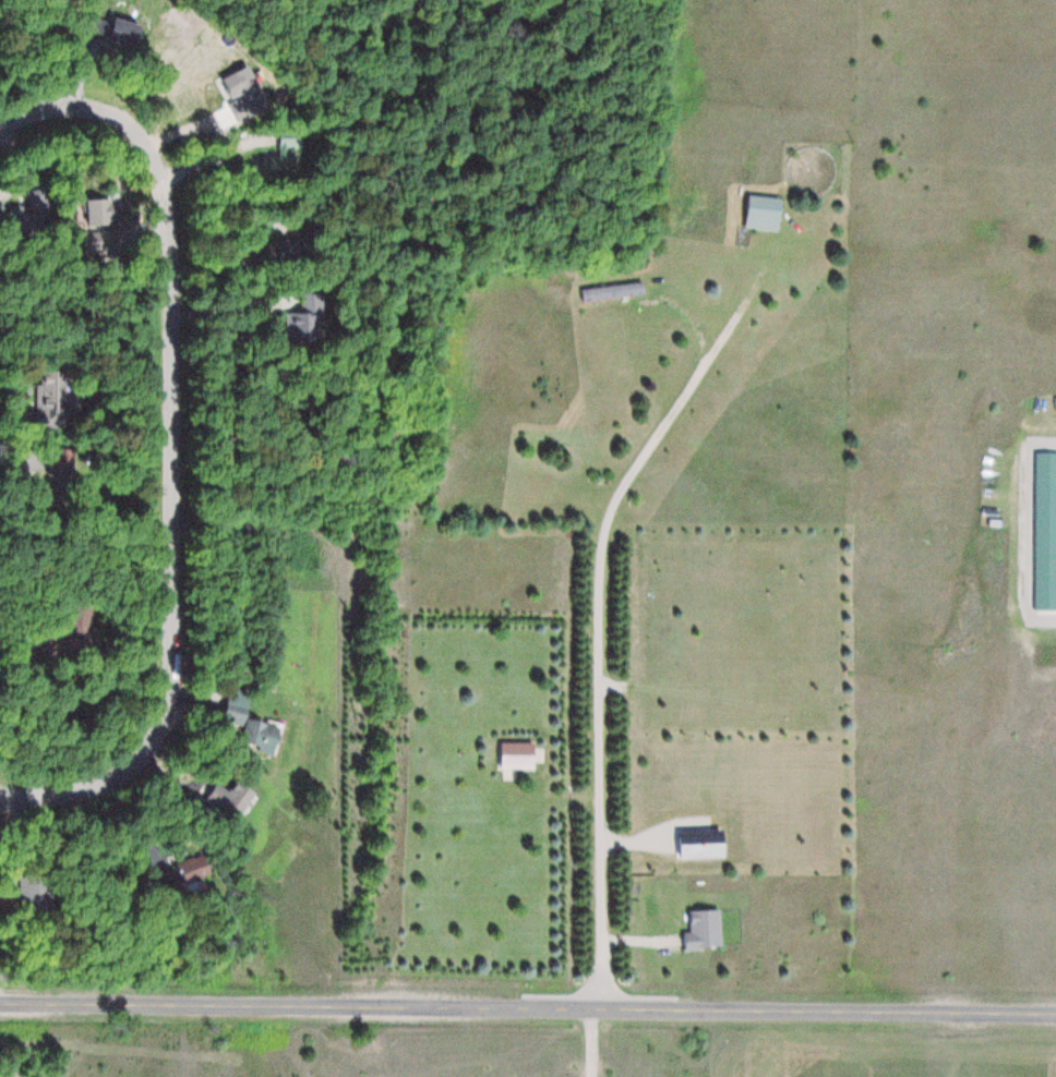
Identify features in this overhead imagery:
building: (766, 213)
building: (615, 291)
building: (51, 413)
road: (161, 445)
road: (1023, 527)
building: (1043, 527)
road: (598, 638)
building: (267, 738)
building: (518, 754)
building: (230, 800)
building: (196, 869)
building: (37, 894)
building: (704, 930)
road: (527, 1008)

